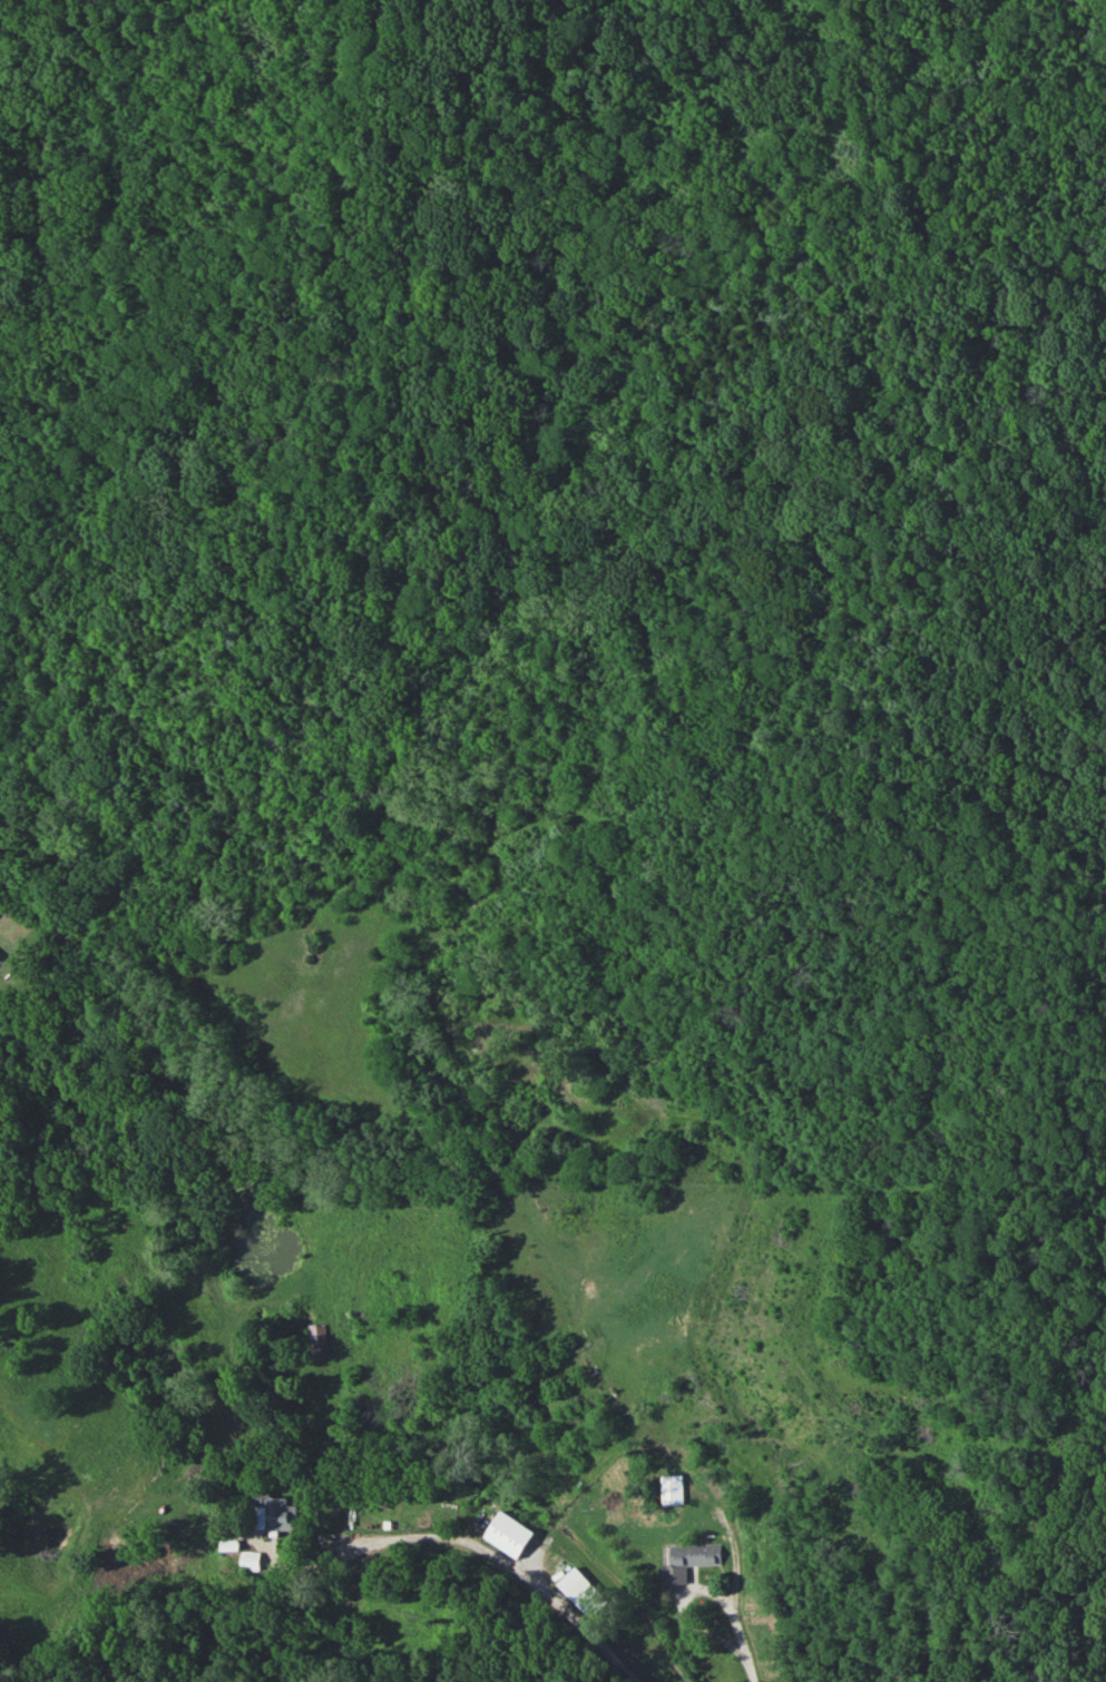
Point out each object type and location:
road: (1057, 1103)
building: (316, 1338)
building: (672, 1489)
building: (275, 1515)
building: (508, 1534)
building: (688, 1561)
road: (510, 1571)
road: (688, 1591)
building: (580, 1592)
road: (748, 1669)

